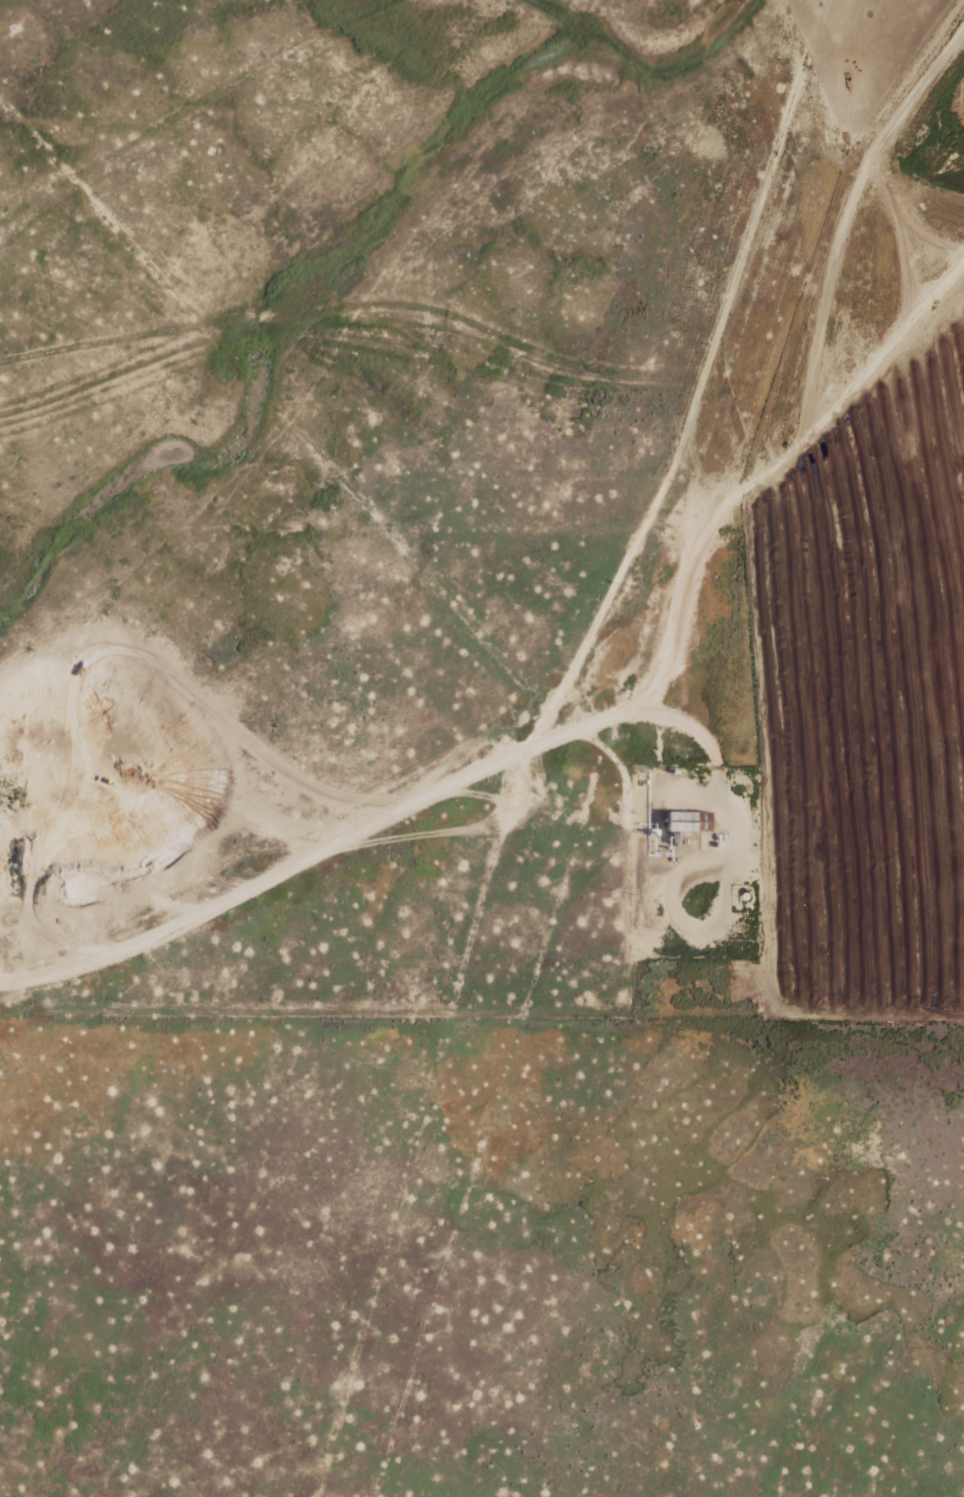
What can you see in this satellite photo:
road: (939, 287)

